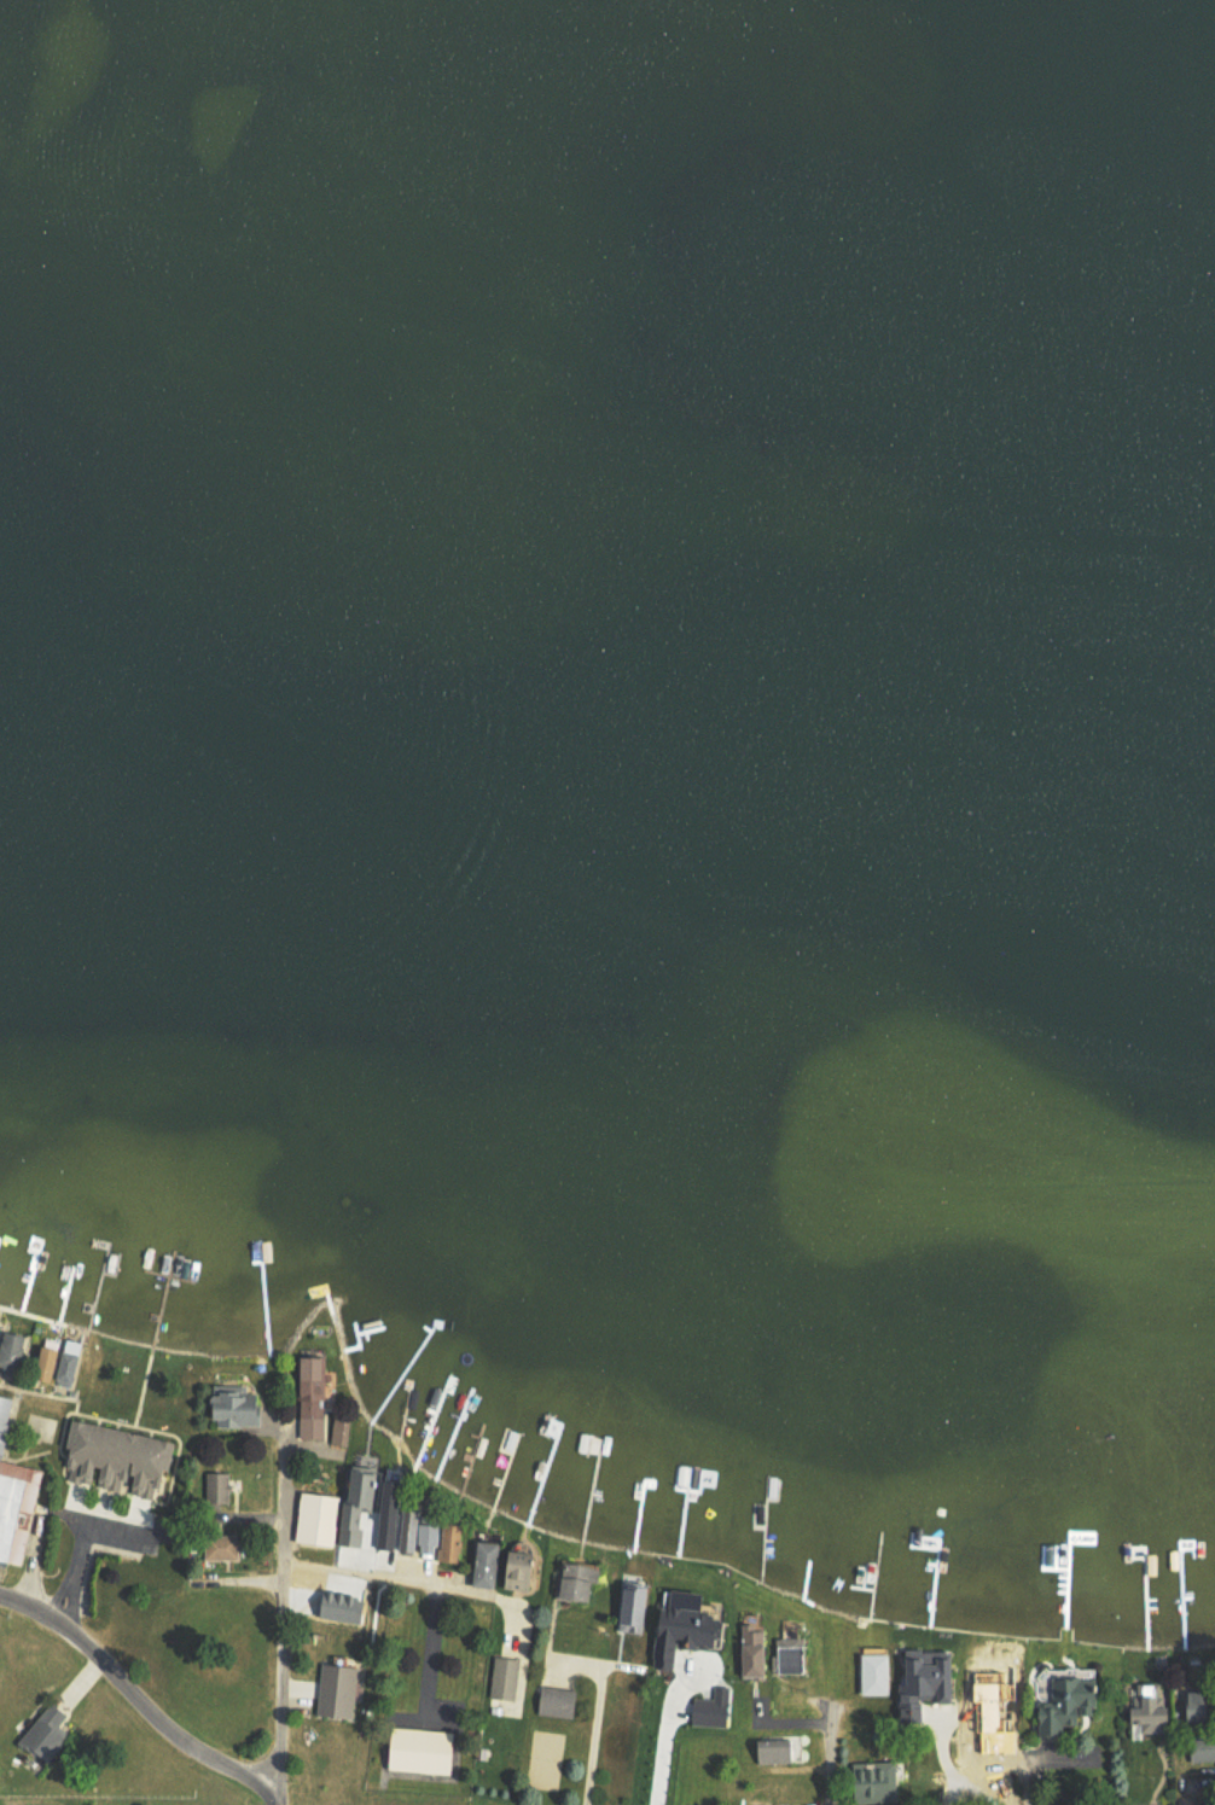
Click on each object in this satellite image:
building: (16, 1353)
building: (54, 1364)
building: (71, 1369)
road: (37, 1396)
building: (314, 1397)
building: (342, 1431)
building: (217, 1490)
building: (8, 1500)
building: (367, 1506)
building: (320, 1519)
building: (397, 1519)
building: (432, 1537)
building: (223, 1548)
building: (492, 1565)
building: (525, 1573)
road: (388, 1578)
building: (580, 1580)
building: (641, 1608)
road: (279, 1620)
building: (878, 1675)
building: (506, 1678)
building: (931, 1684)
building: (339, 1690)
road: (135, 1701)
building: (560, 1702)
building: (1060, 1704)
building: (715, 1708)
road: (1123, 1728)
building: (51, 1730)
building: (426, 1751)
building: (779, 1751)
road: (1028, 1772)
road: (830, 1776)
building: (882, 1782)

